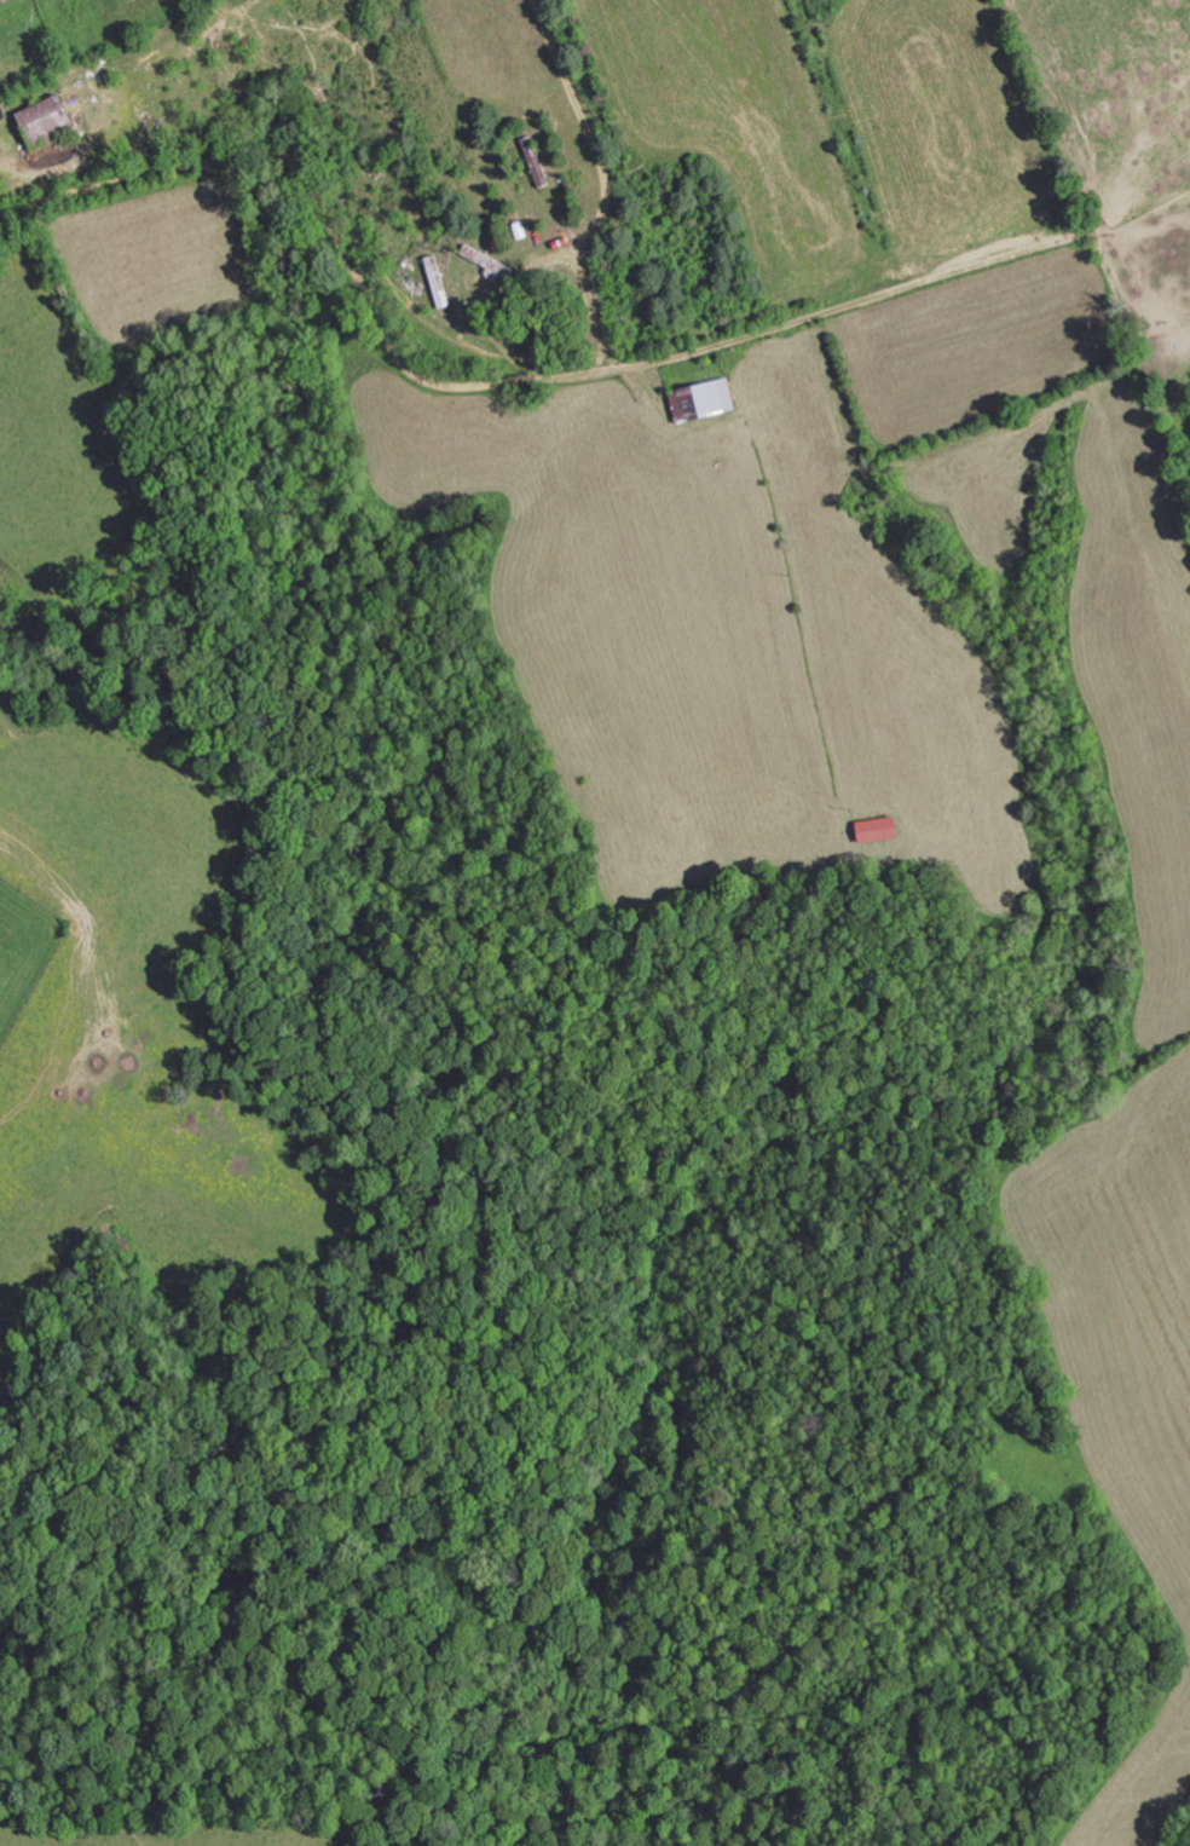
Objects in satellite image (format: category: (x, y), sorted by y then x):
building: (42, 119)
building: (533, 161)
road: (528, 344)
building: (698, 400)
building: (874, 829)

